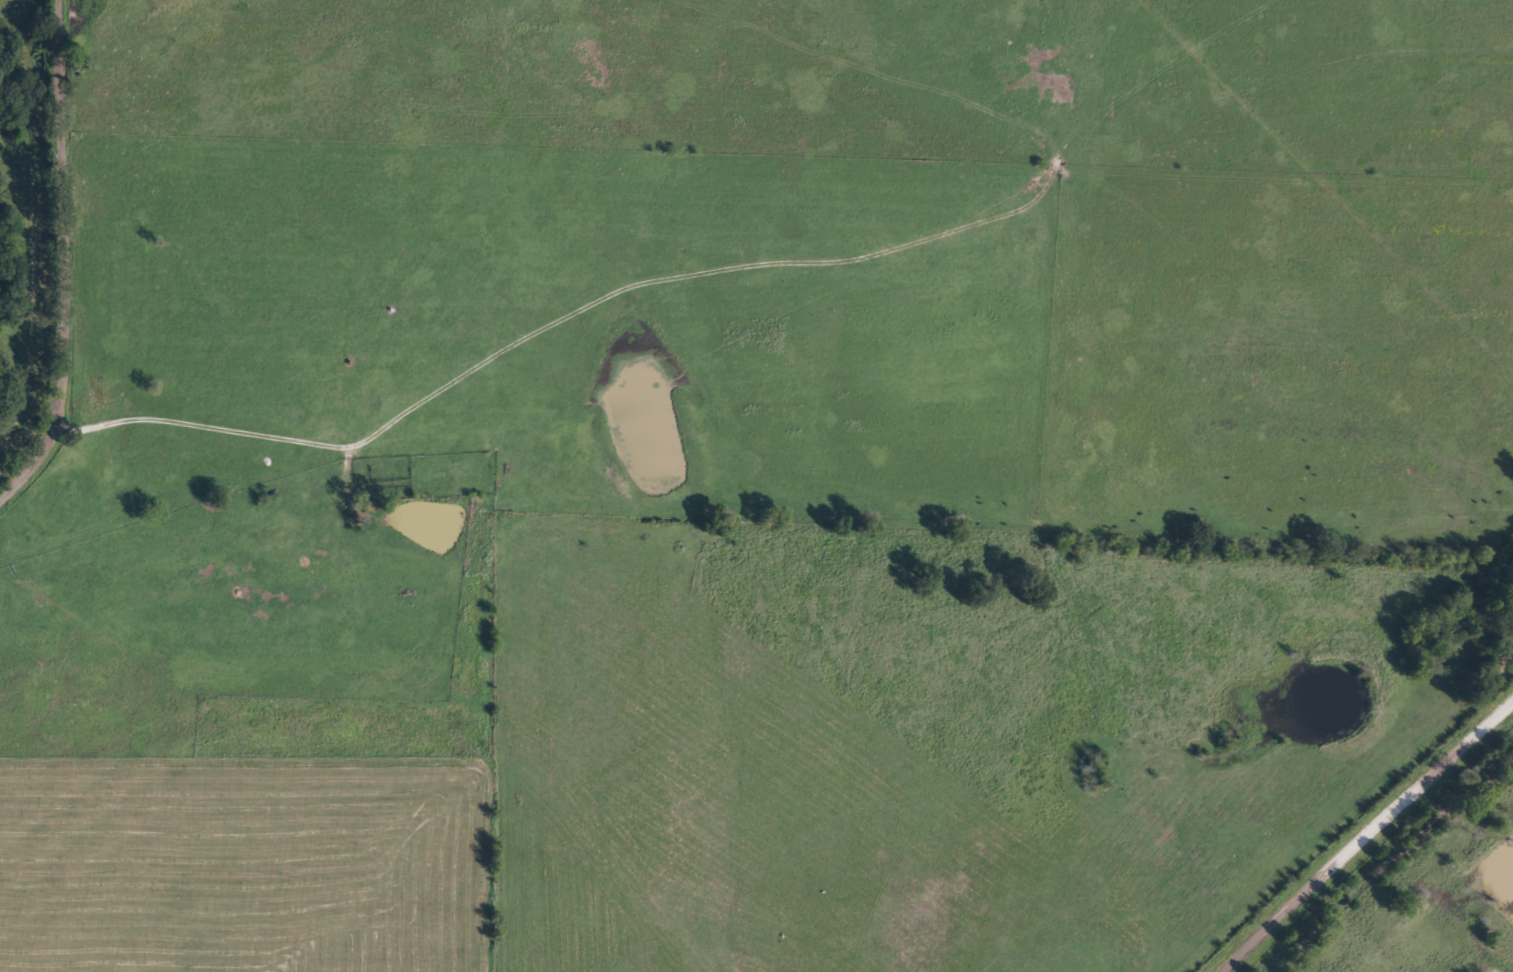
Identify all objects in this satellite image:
road: (31, 243)
road: (1367, 820)

